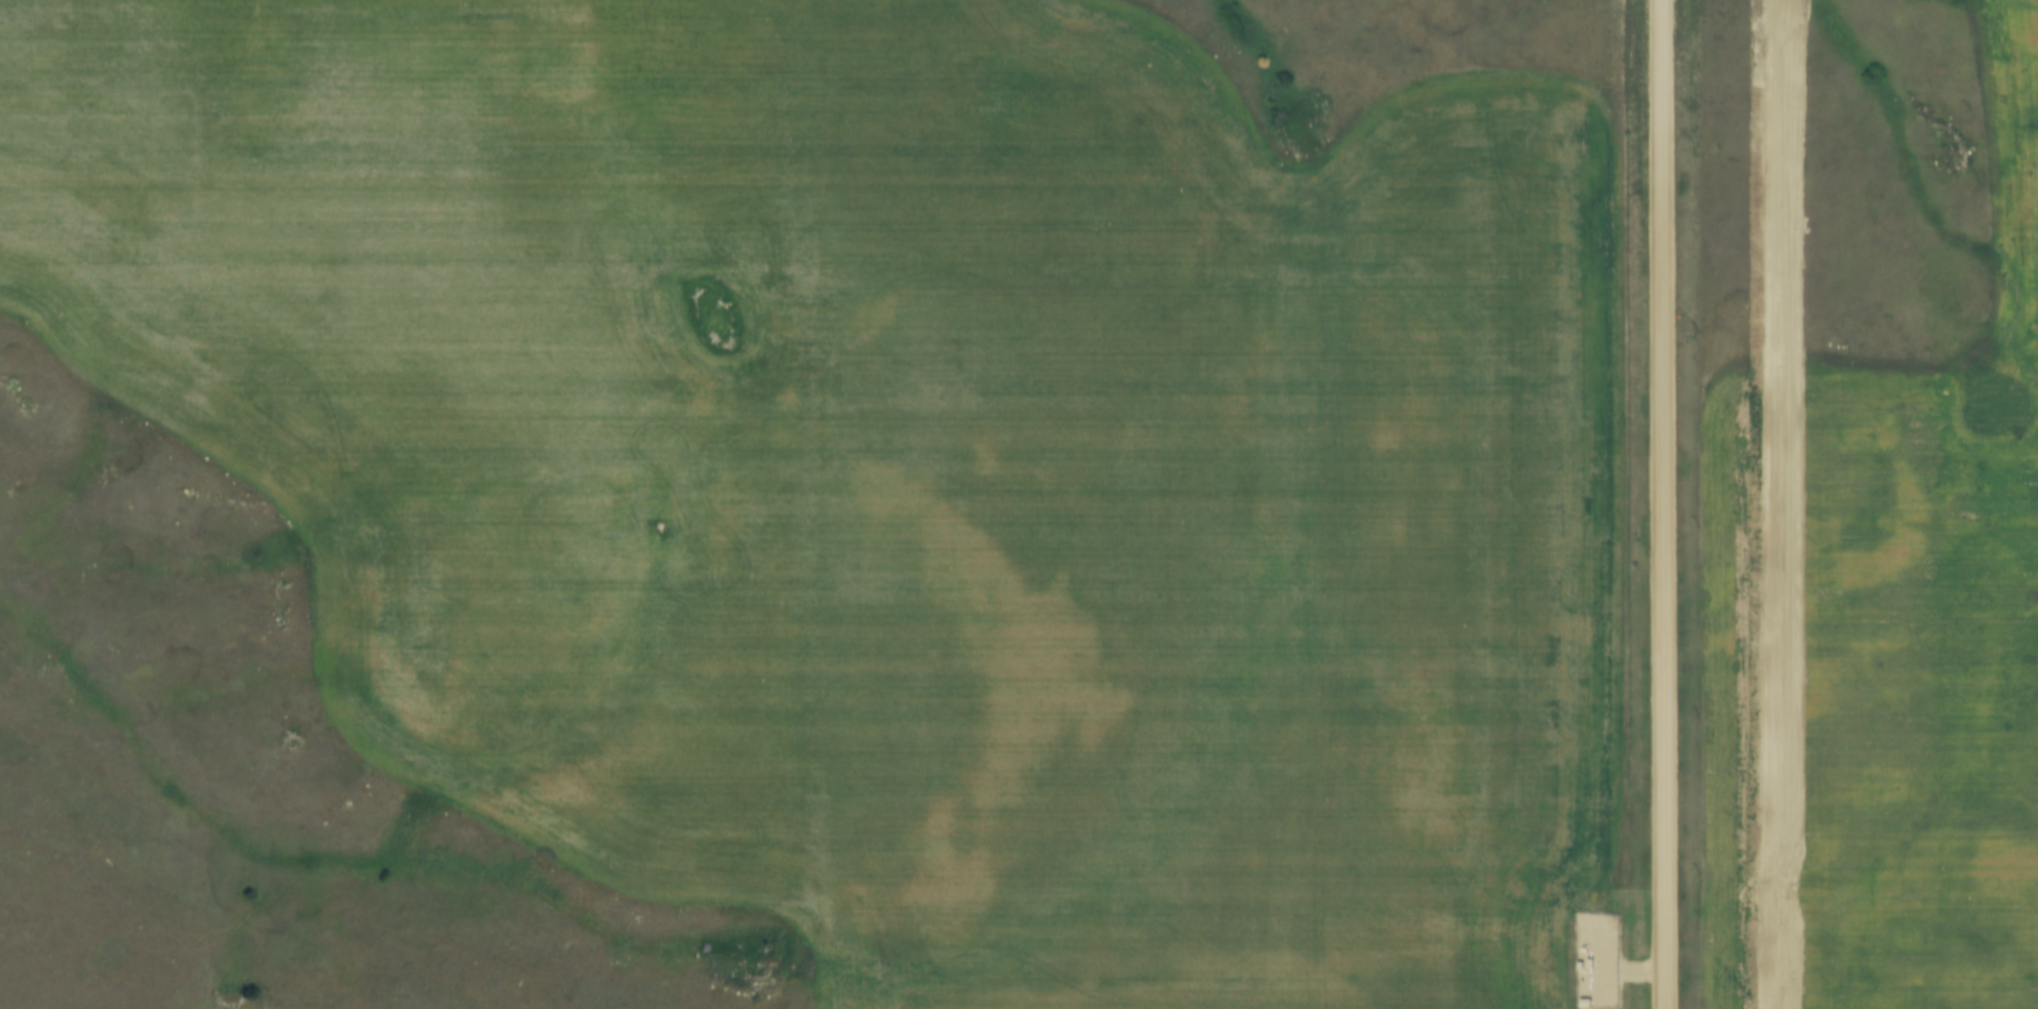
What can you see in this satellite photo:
road: (1663, 504)

